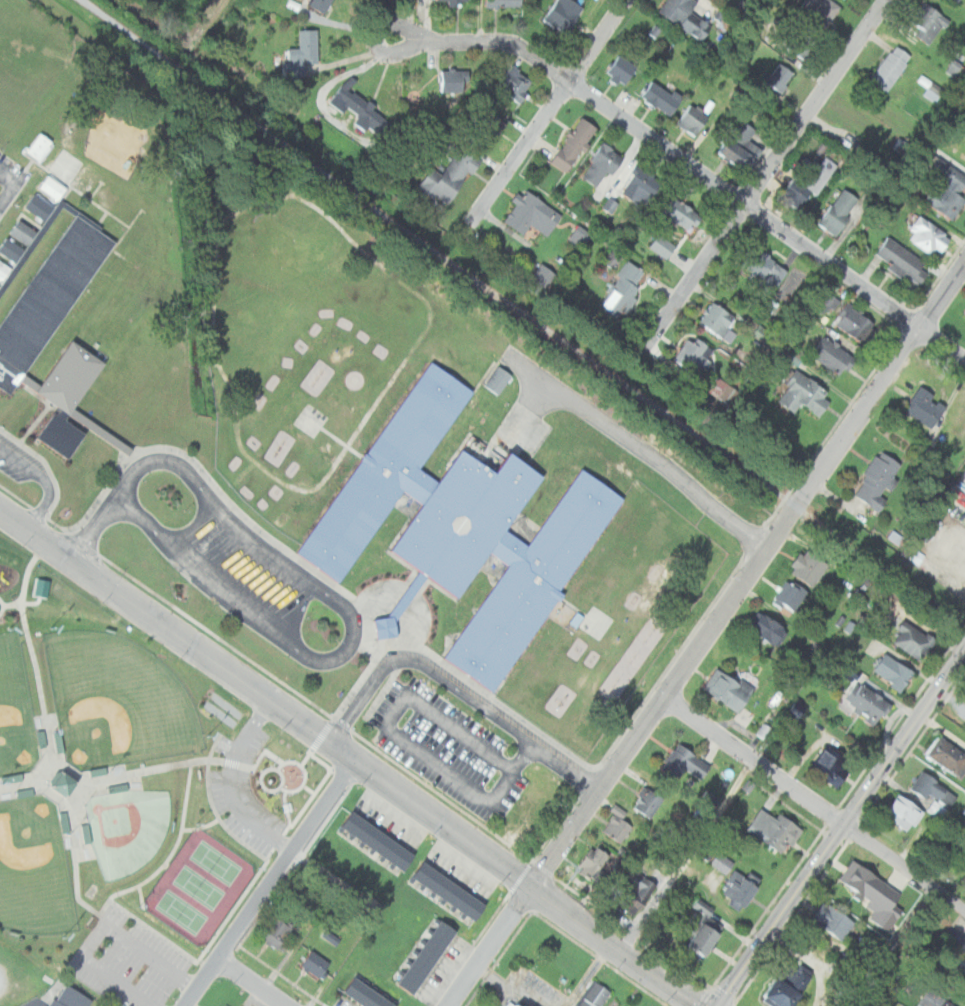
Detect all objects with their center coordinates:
building: (454, 0)
building: (956, 1)
building: (504, 3)
building: (321, 4)
building: (821, 10)
building: (564, 14)
building: (685, 16)
road: (384, 21)
building: (927, 22)
building: (802, 42)
building: (305, 48)
building: (952, 66)
building: (890, 68)
building: (620, 69)
road: (342, 76)
building: (780, 77)
building: (454, 80)
building: (514, 84)
building: (931, 89)
building: (660, 98)
building: (363, 109)
road: (546, 111)
building: (694, 119)
building: (574, 143)
building: (964, 144)
building: (42, 145)
building: (740, 146)
building: (64, 161)
building: (602, 166)
road: (704, 173)
road: (762, 173)
building: (449, 175)
building: (87, 178)
building: (807, 183)
building: (52, 188)
building: (639, 190)
building: (947, 191)
road: (280, 196)
building: (612, 203)
building: (41, 206)
building: (838, 211)
building: (531, 213)
building: (681, 213)
building: (25, 230)
building: (583, 235)
building: (928, 236)
building: (662, 246)
building: (12, 248)
road: (442, 248)
building: (903, 260)
building: (763, 267)
building: (4, 269)
building: (540, 278)
building: (0, 285)
building: (623, 288)
building: (50, 298)
building: (963, 316)
building: (717, 319)
building: (855, 323)
building: (694, 354)
building: (834, 356)
road: (883, 379)
building: (497, 380)
building: (726, 390)
building: (72, 394)
building: (804, 394)
building: (926, 407)
road: (522, 416)
road: (636, 445)
parking lot: (14, 466)
road: (46, 478)
building: (878, 480)
building: (461, 526)
road: (94, 530)
road: (883, 554)
parking lot: (238, 566)
building: (808, 566)
building: (278, 575)
building: (45, 586)
building: (790, 595)
road: (353, 624)
building: (851, 625)
building: (385, 627)
building: (768, 628)
building: (913, 640)
building: (893, 672)
road: (456, 689)
building: (728, 689)
park: (117, 700)
building: (869, 702)
building: (800, 706)
park: (16, 710)
road: (397, 738)
parking lot: (447, 749)
road: (625, 751)
building: (947, 755)
road: (350, 760)
building: (684, 763)
building: (831, 765)
building: (70, 783)
road: (230, 783)
building: (751, 784)
park: (130, 793)
building: (934, 793)
building: (648, 801)
road: (812, 806)
building: (903, 812)
building: (351, 822)
building: (617, 826)
road: (837, 826)
park: (127, 828)
building: (362, 829)
building: (774, 829)
building: (372, 836)
building: (383, 843)
building: (393, 851)
building: (403, 858)
park: (218, 860)
building: (721, 862)
building: (594, 866)
park: (34, 868)
building: (424, 872)
building: (434, 880)
road: (269, 884)
park: (200, 886)
building: (444, 887)
building: (740, 888)
building: (455, 894)
building: (631, 894)
building: (873, 895)
building: (465, 901)
building: (706, 907)
building: (475, 909)
park: (181, 912)
building: (833, 920)
building: (445, 931)
building: (281, 933)
building: (332, 936)
building: (705, 940)
building: (438, 942)
building: (431, 953)
building: (423, 963)
park: (131, 964)
building: (319, 964)
building: (960, 964)
road: (593, 969)
building: (416, 974)
road: (251, 982)
building: (409, 985)
road: (504, 986)
building: (354, 987)
building: (365, 994)
building: (785, 994)
building: (595, 995)
building: (73, 996)
building: (936, 998)
building: (377, 1000)
road: (570, 1001)
building: (510, 1002)
building: (389, 1003)

